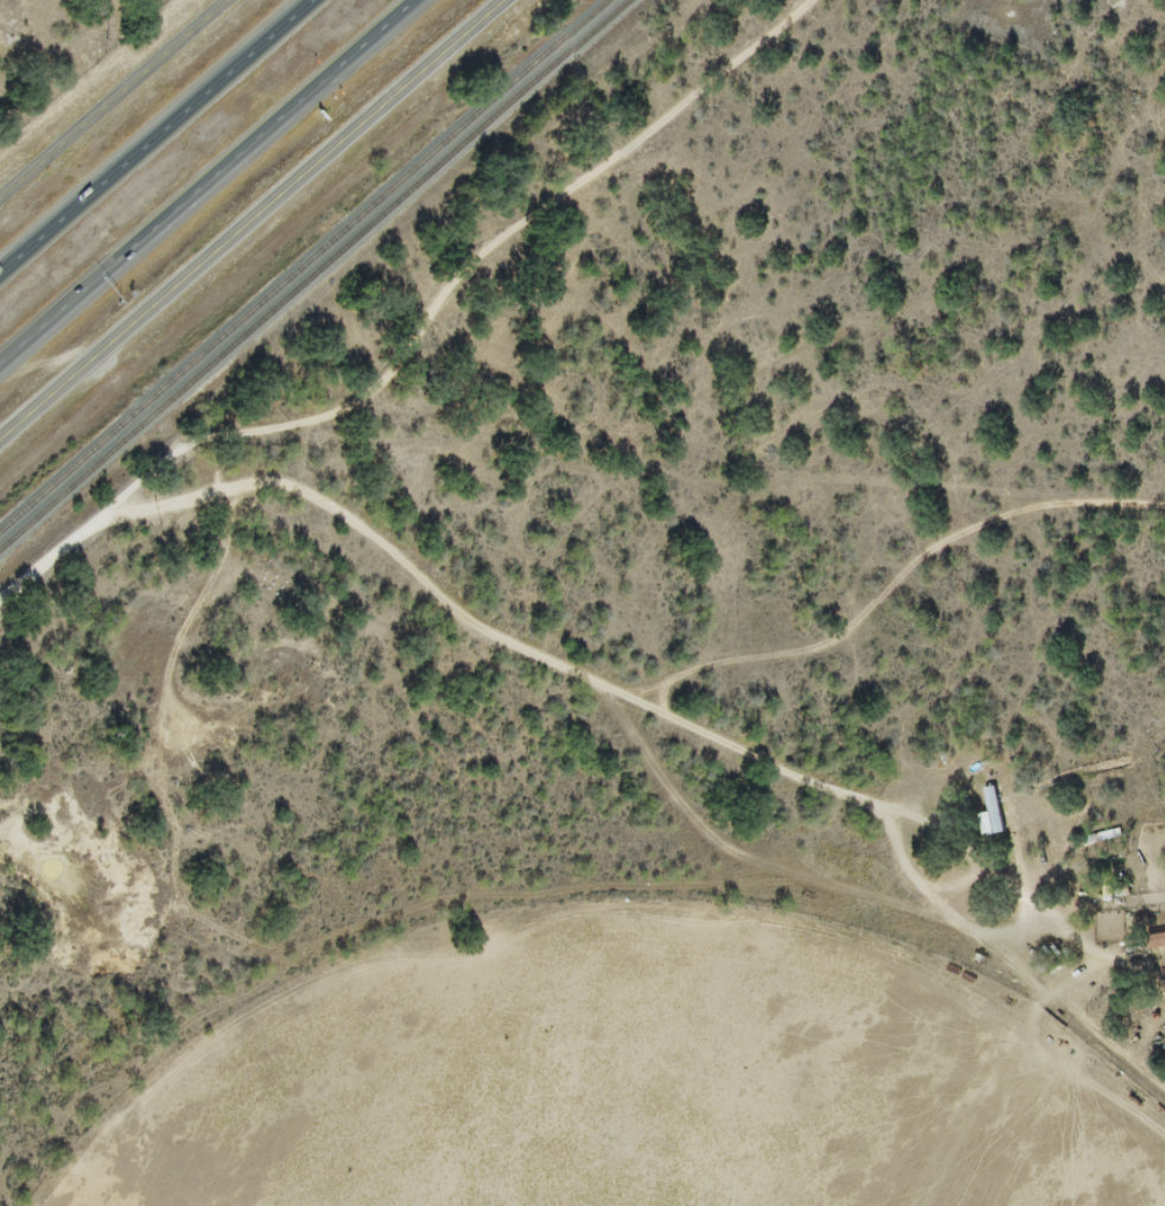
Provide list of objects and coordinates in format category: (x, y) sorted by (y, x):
road: (1128, 34)
road: (117, 102)
road: (155, 134)
road: (209, 186)
road: (250, 217)
railway: (298, 261)
railway: (314, 274)
road: (419, 343)
road: (889, 585)
road: (681, 722)
building: (991, 814)
building: (1158, 941)
road: (1131, 964)
road: (1103, 1034)
building: (1164, 1047)

